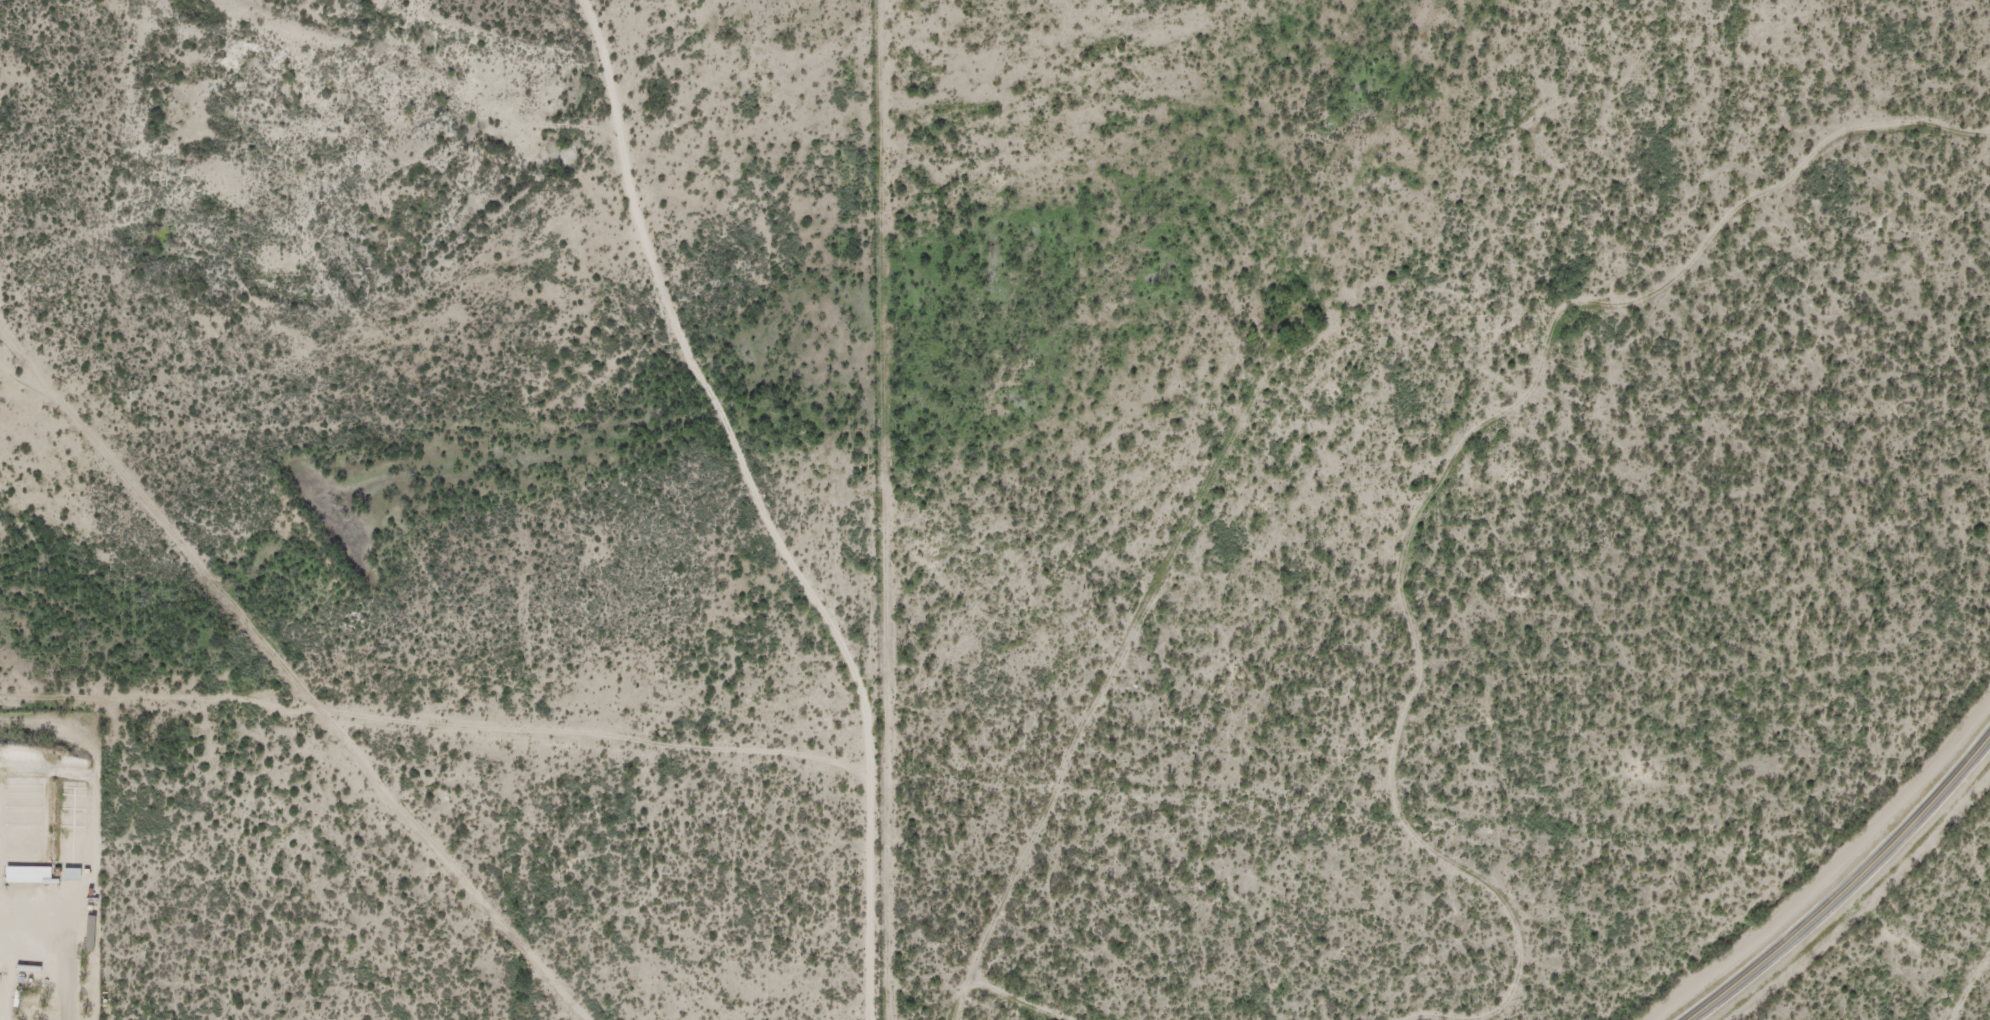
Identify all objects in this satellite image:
road: (16, 343)
road: (765, 505)
road: (289, 683)
road: (142, 712)
road: (1848, 889)
building: (88, 935)
road: (100, 997)

